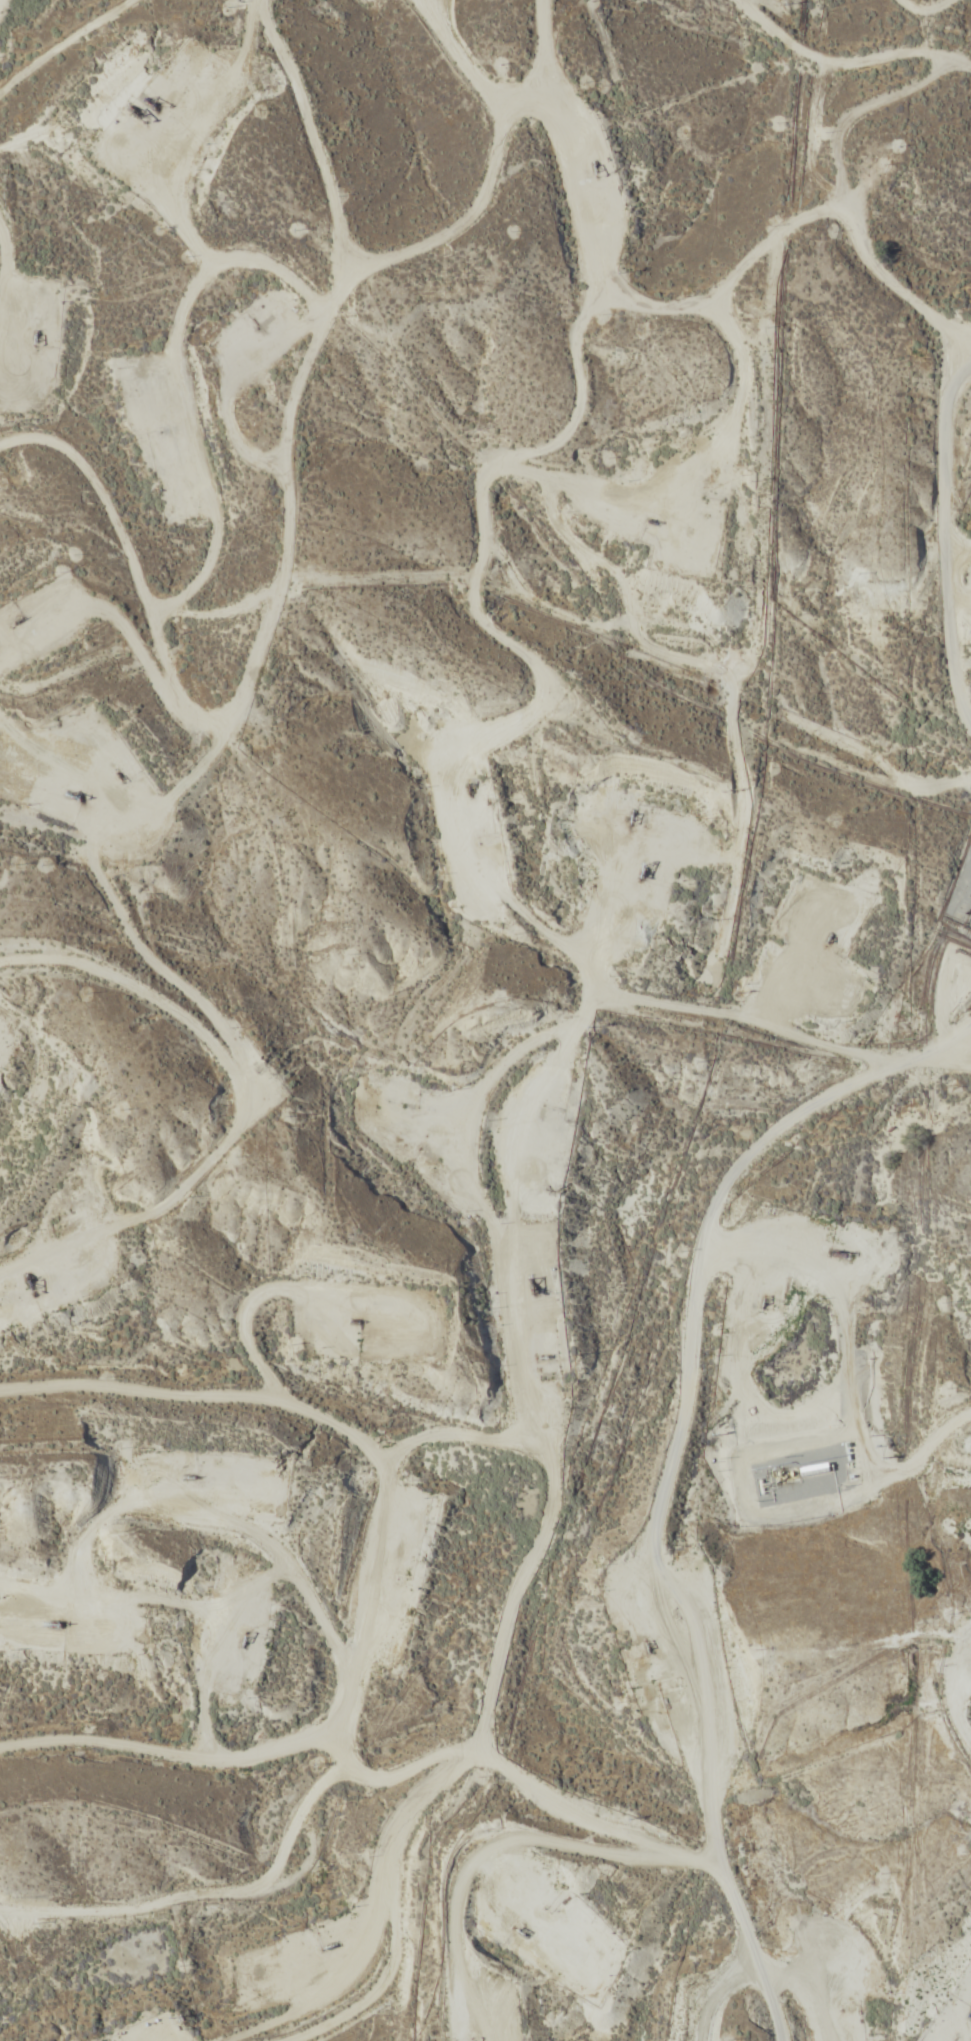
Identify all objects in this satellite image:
road: (105, 28)
road: (291, 142)
road: (375, 281)
road: (955, 601)
road: (504, 1119)
road: (734, 1176)
road: (488, 1574)
road: (320, 1692)

